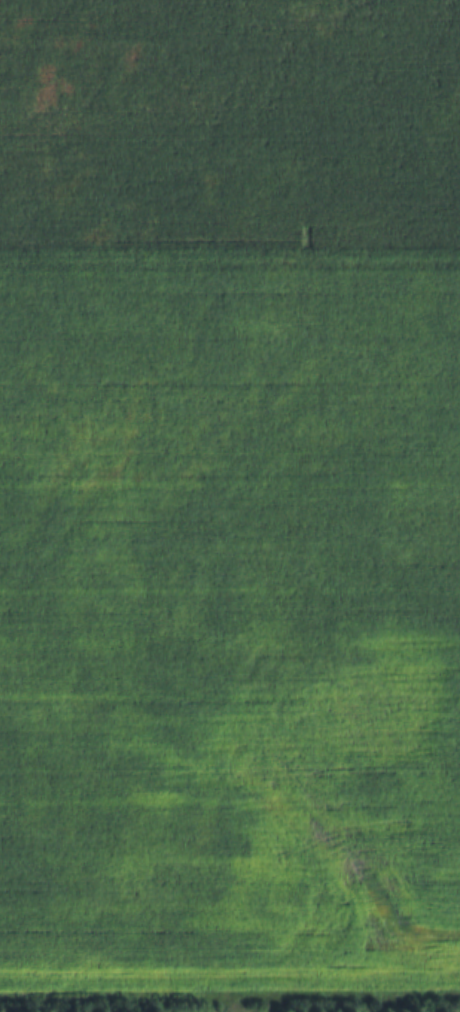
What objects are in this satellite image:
road: (229, 1007)

